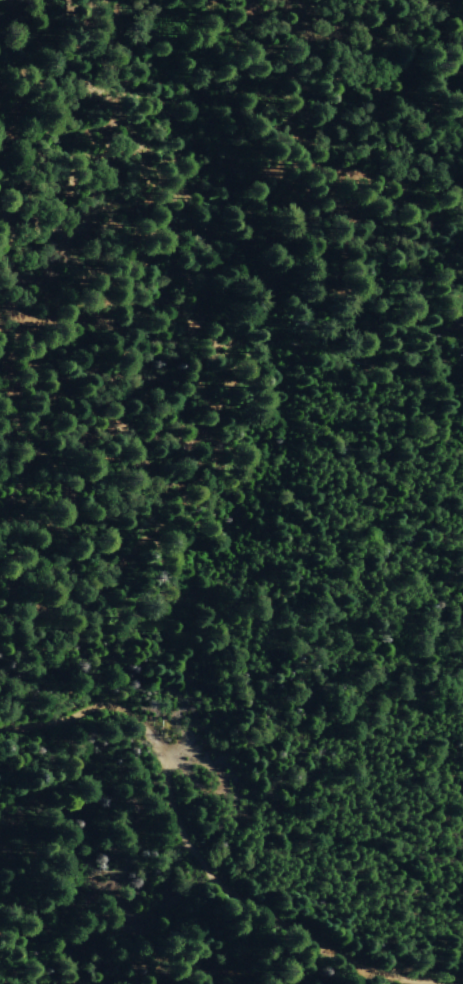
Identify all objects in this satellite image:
road: (191, 879)

